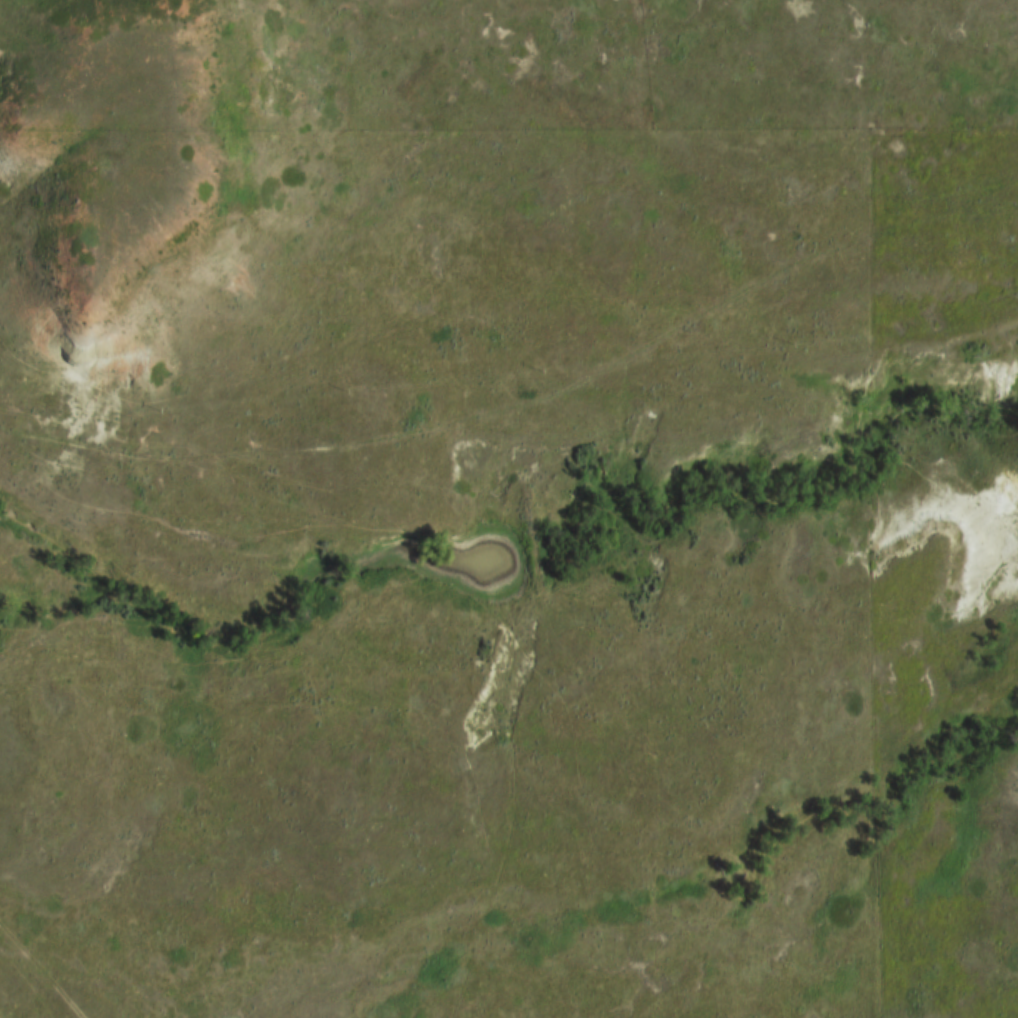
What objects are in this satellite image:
road: (43, 967)

